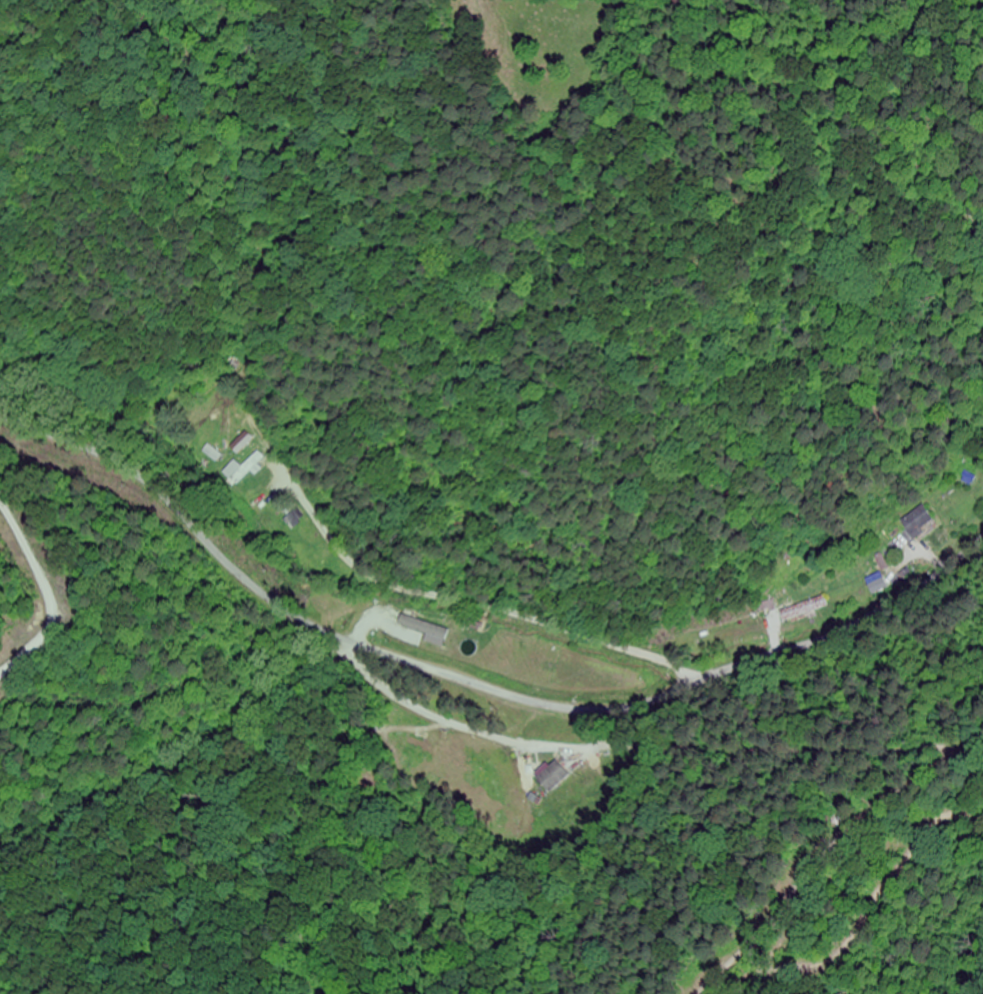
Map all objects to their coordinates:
building: (919, 522)
road: (502, 554)
road: (54, 590)
building: (805, 609)
road: (473, 684)
building: (558, 778)

